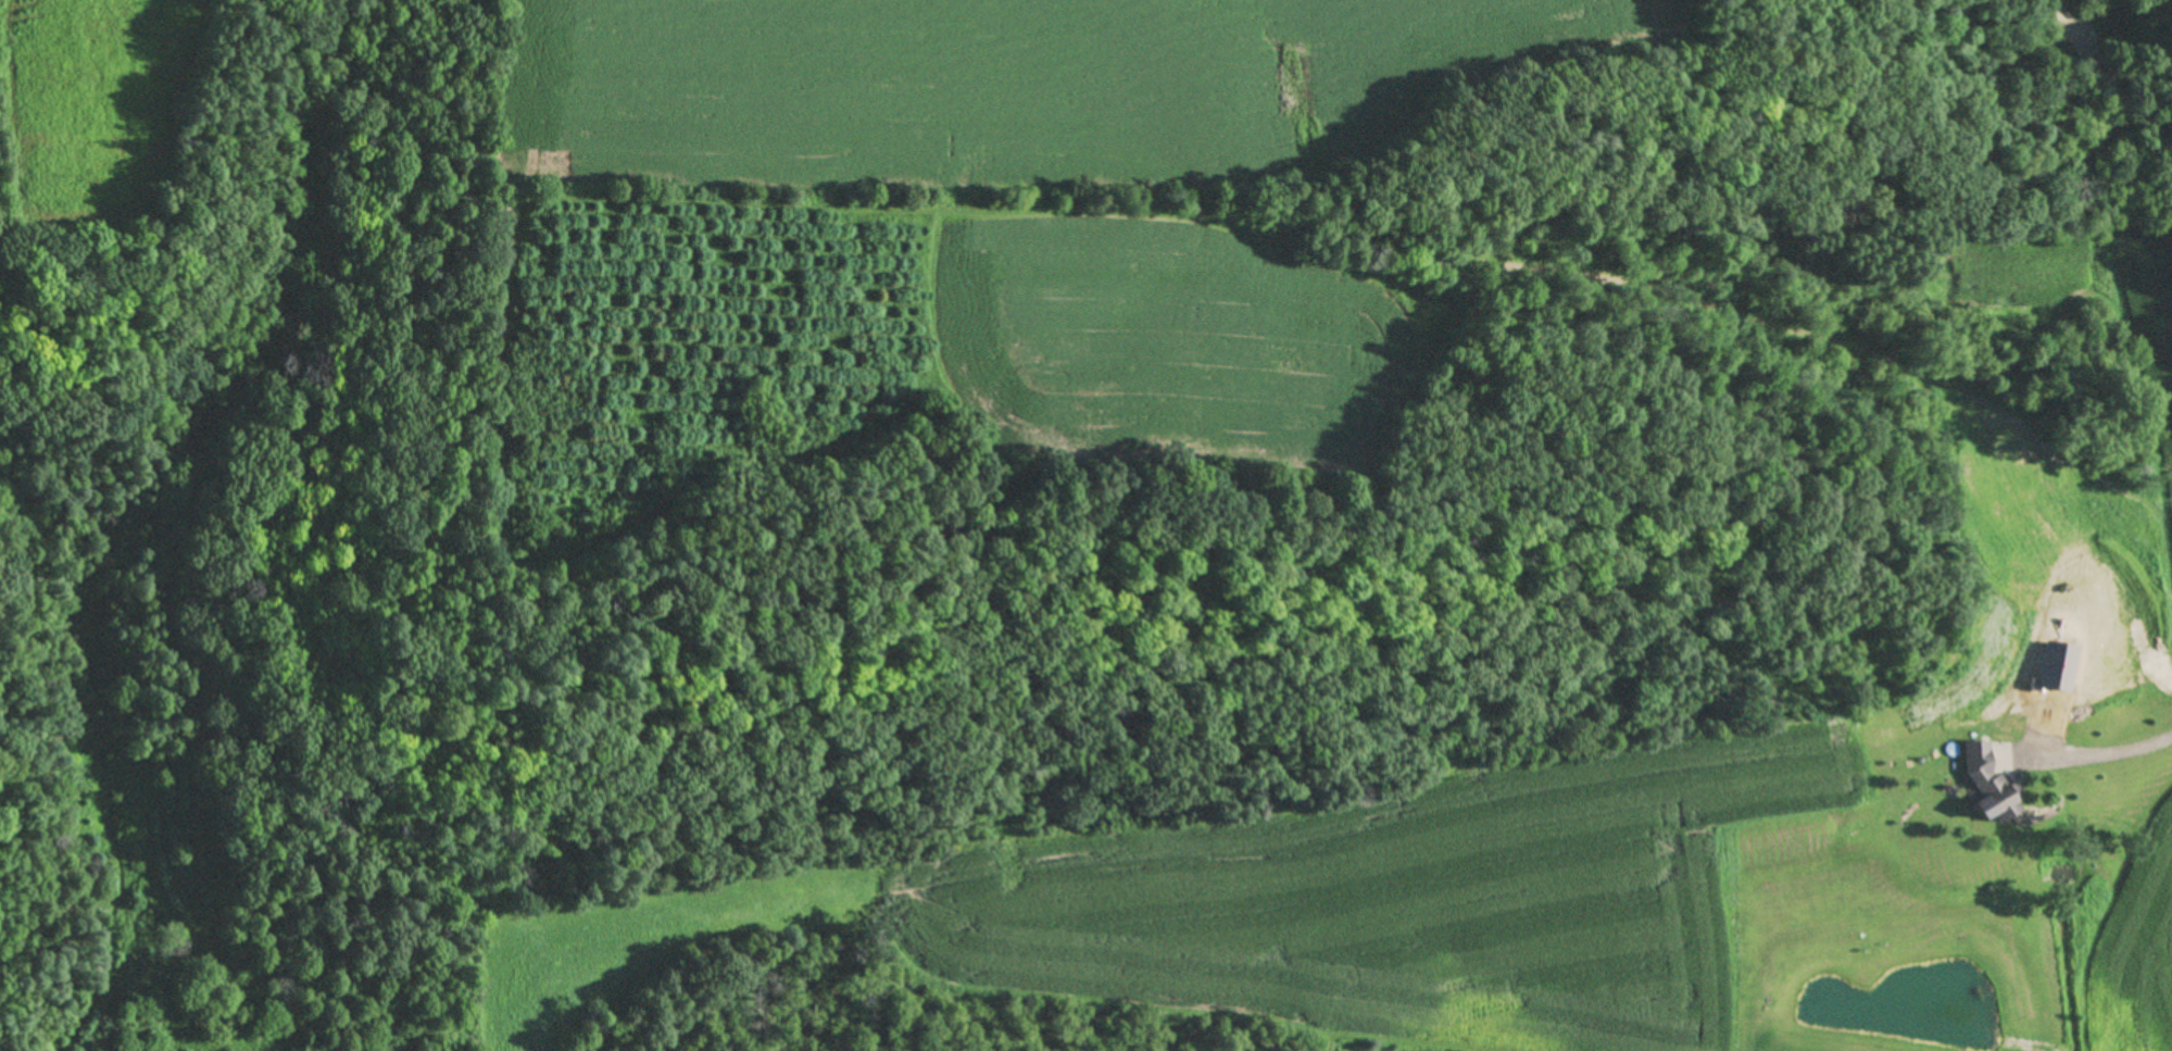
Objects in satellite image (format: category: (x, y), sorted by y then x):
road: (2109, 82)
road: (2169, 167)
road: (2095, 753)
building: (1988, 784)

